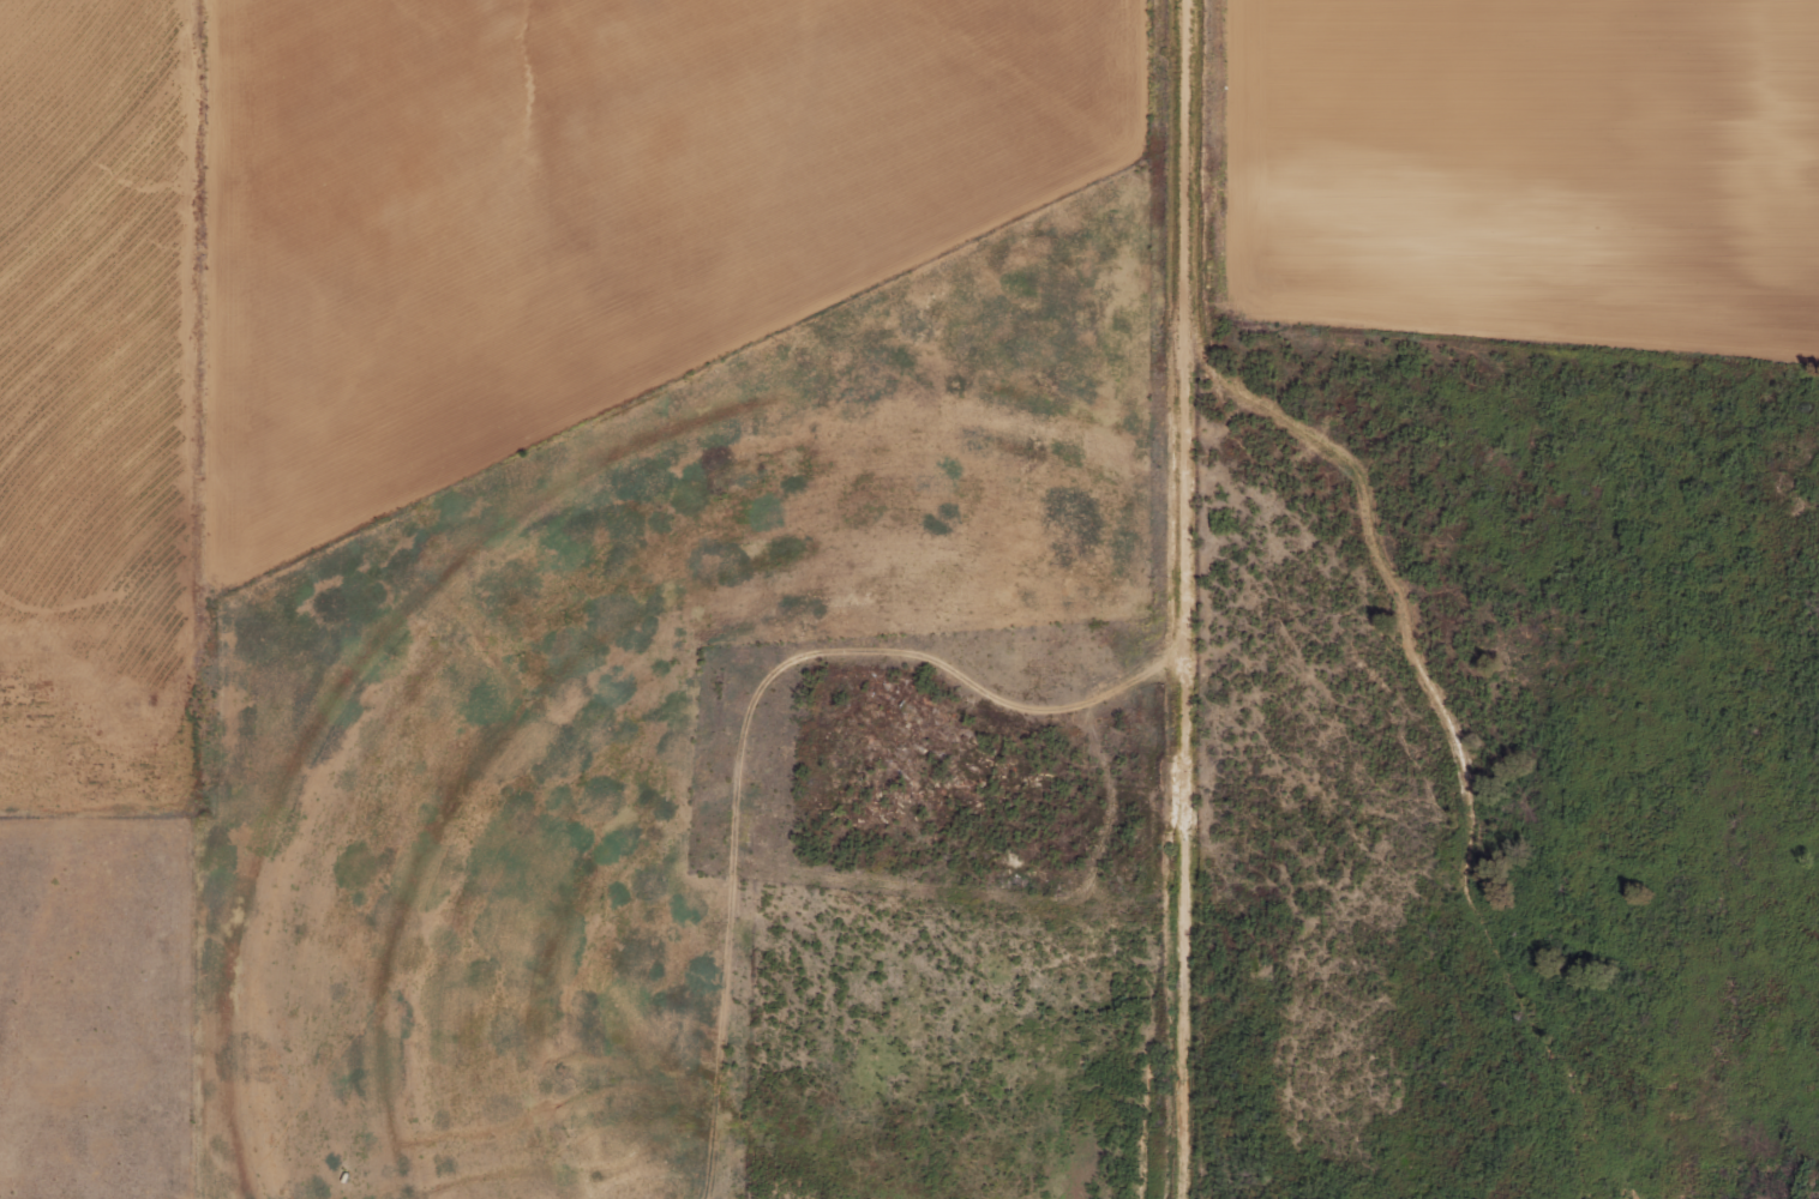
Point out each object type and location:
road: (1172, 599)

